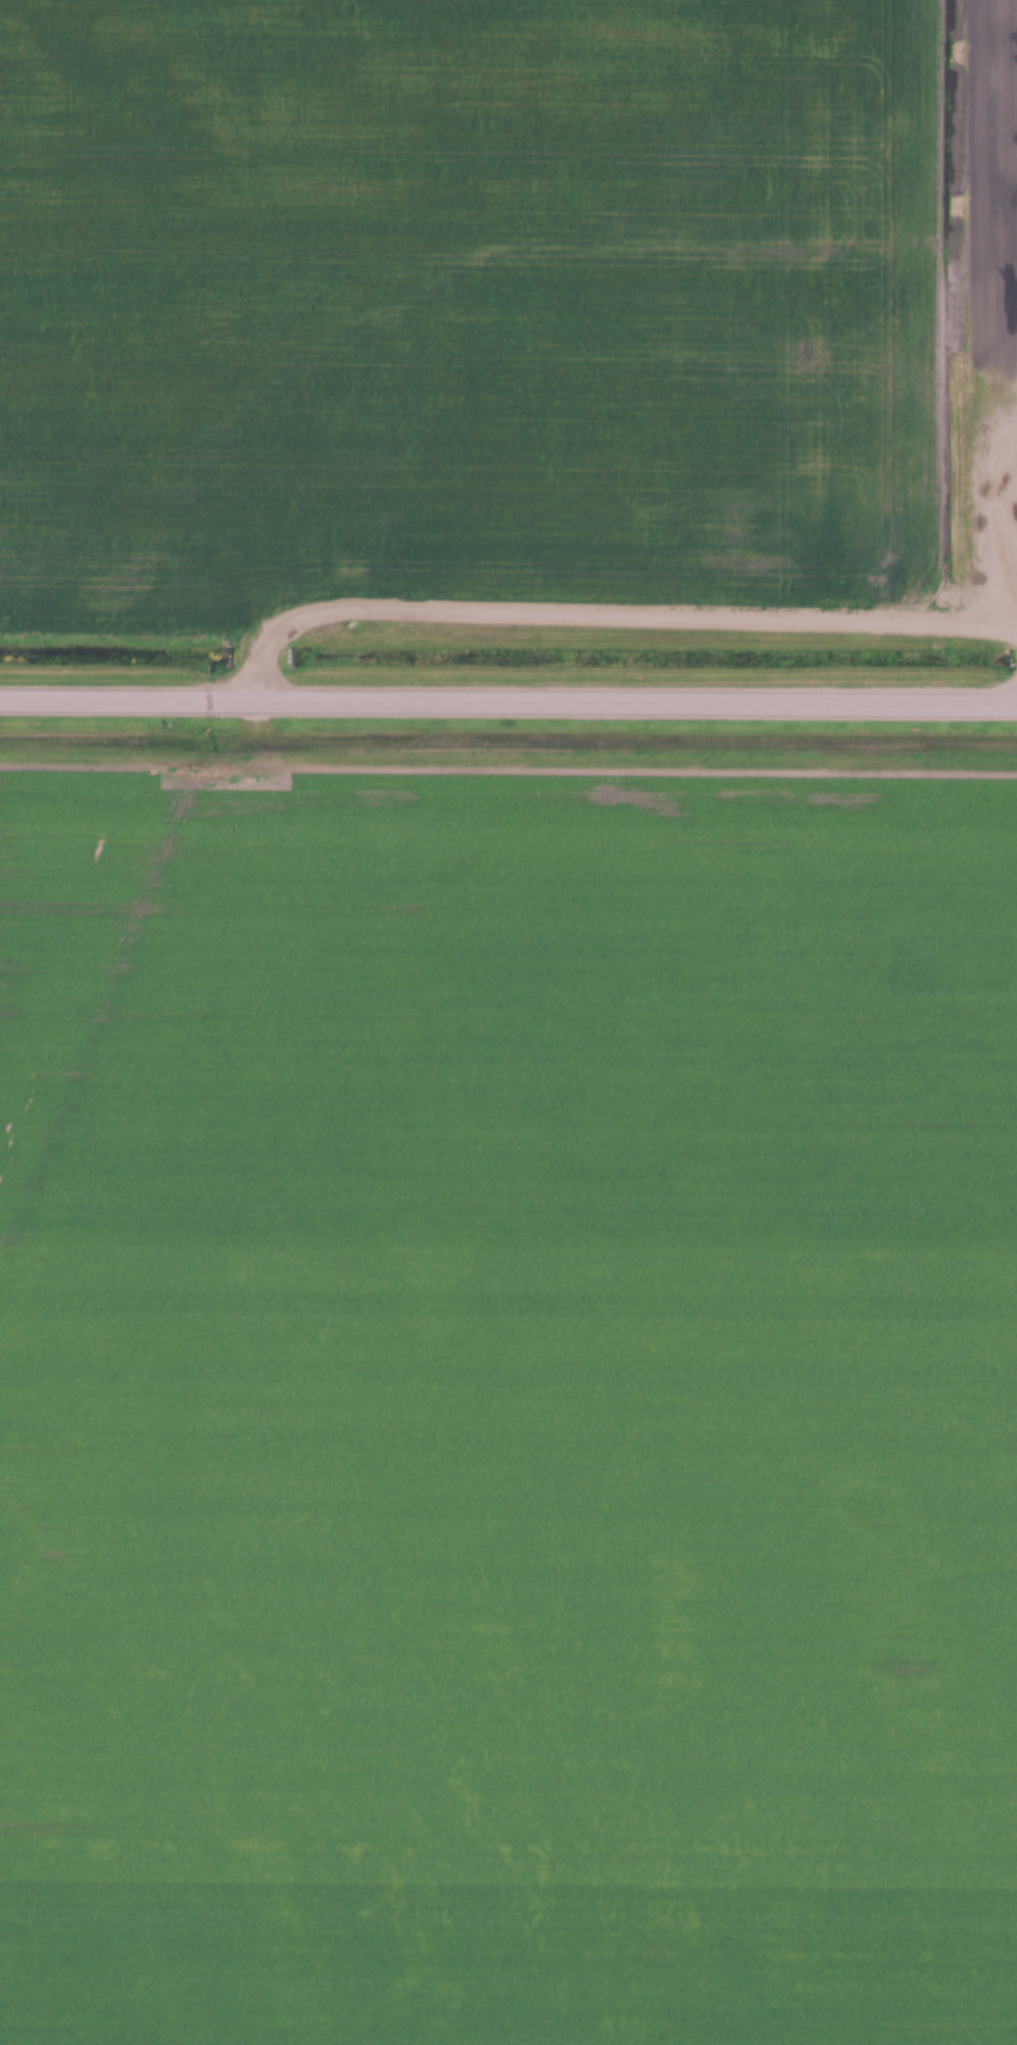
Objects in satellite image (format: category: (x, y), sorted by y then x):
road: (508, 705)

